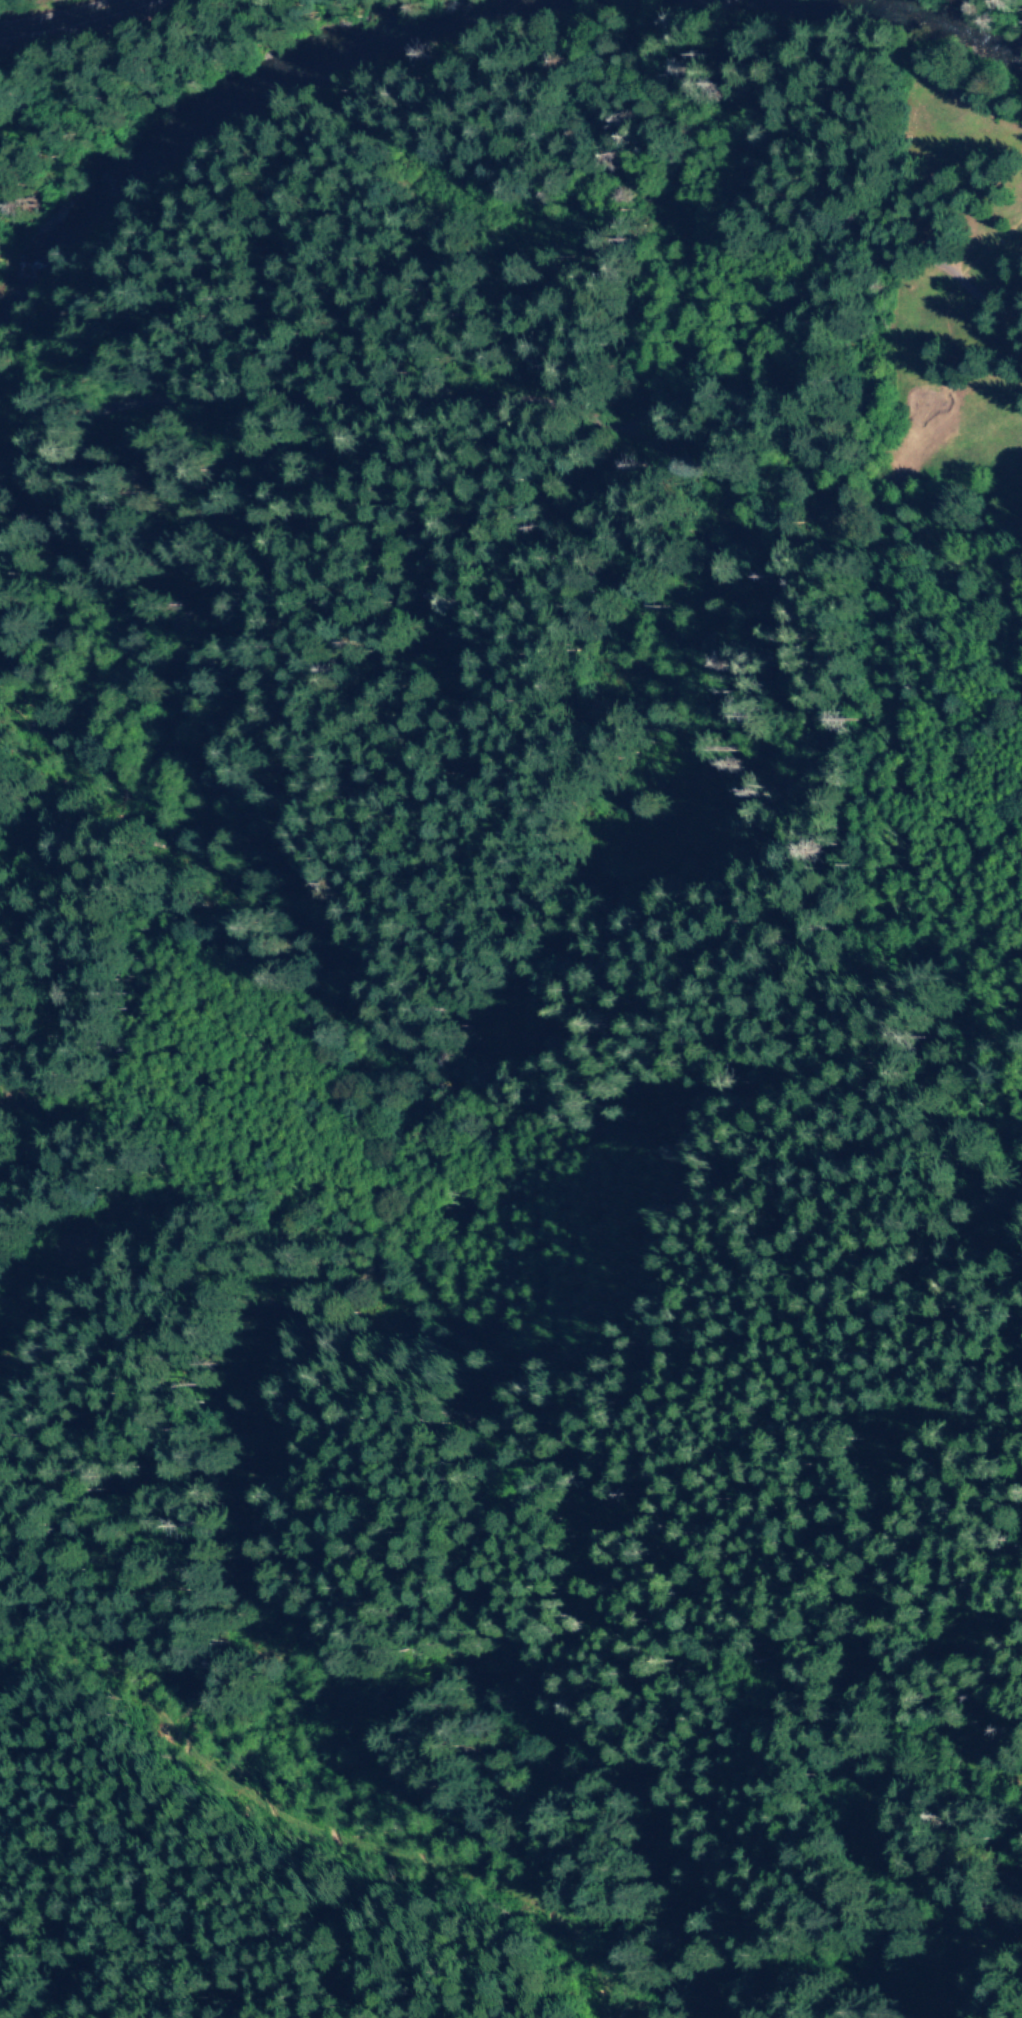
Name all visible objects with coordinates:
road: (54, 14)
river: (949, 25)
parking lot: (50, 29)
river: (334, 61)
road: (813, 323)
road: (509, 428)
road: (74, 1095)
road: (111, 1259)
road: (872, 1844)
road: (300, 1845)

